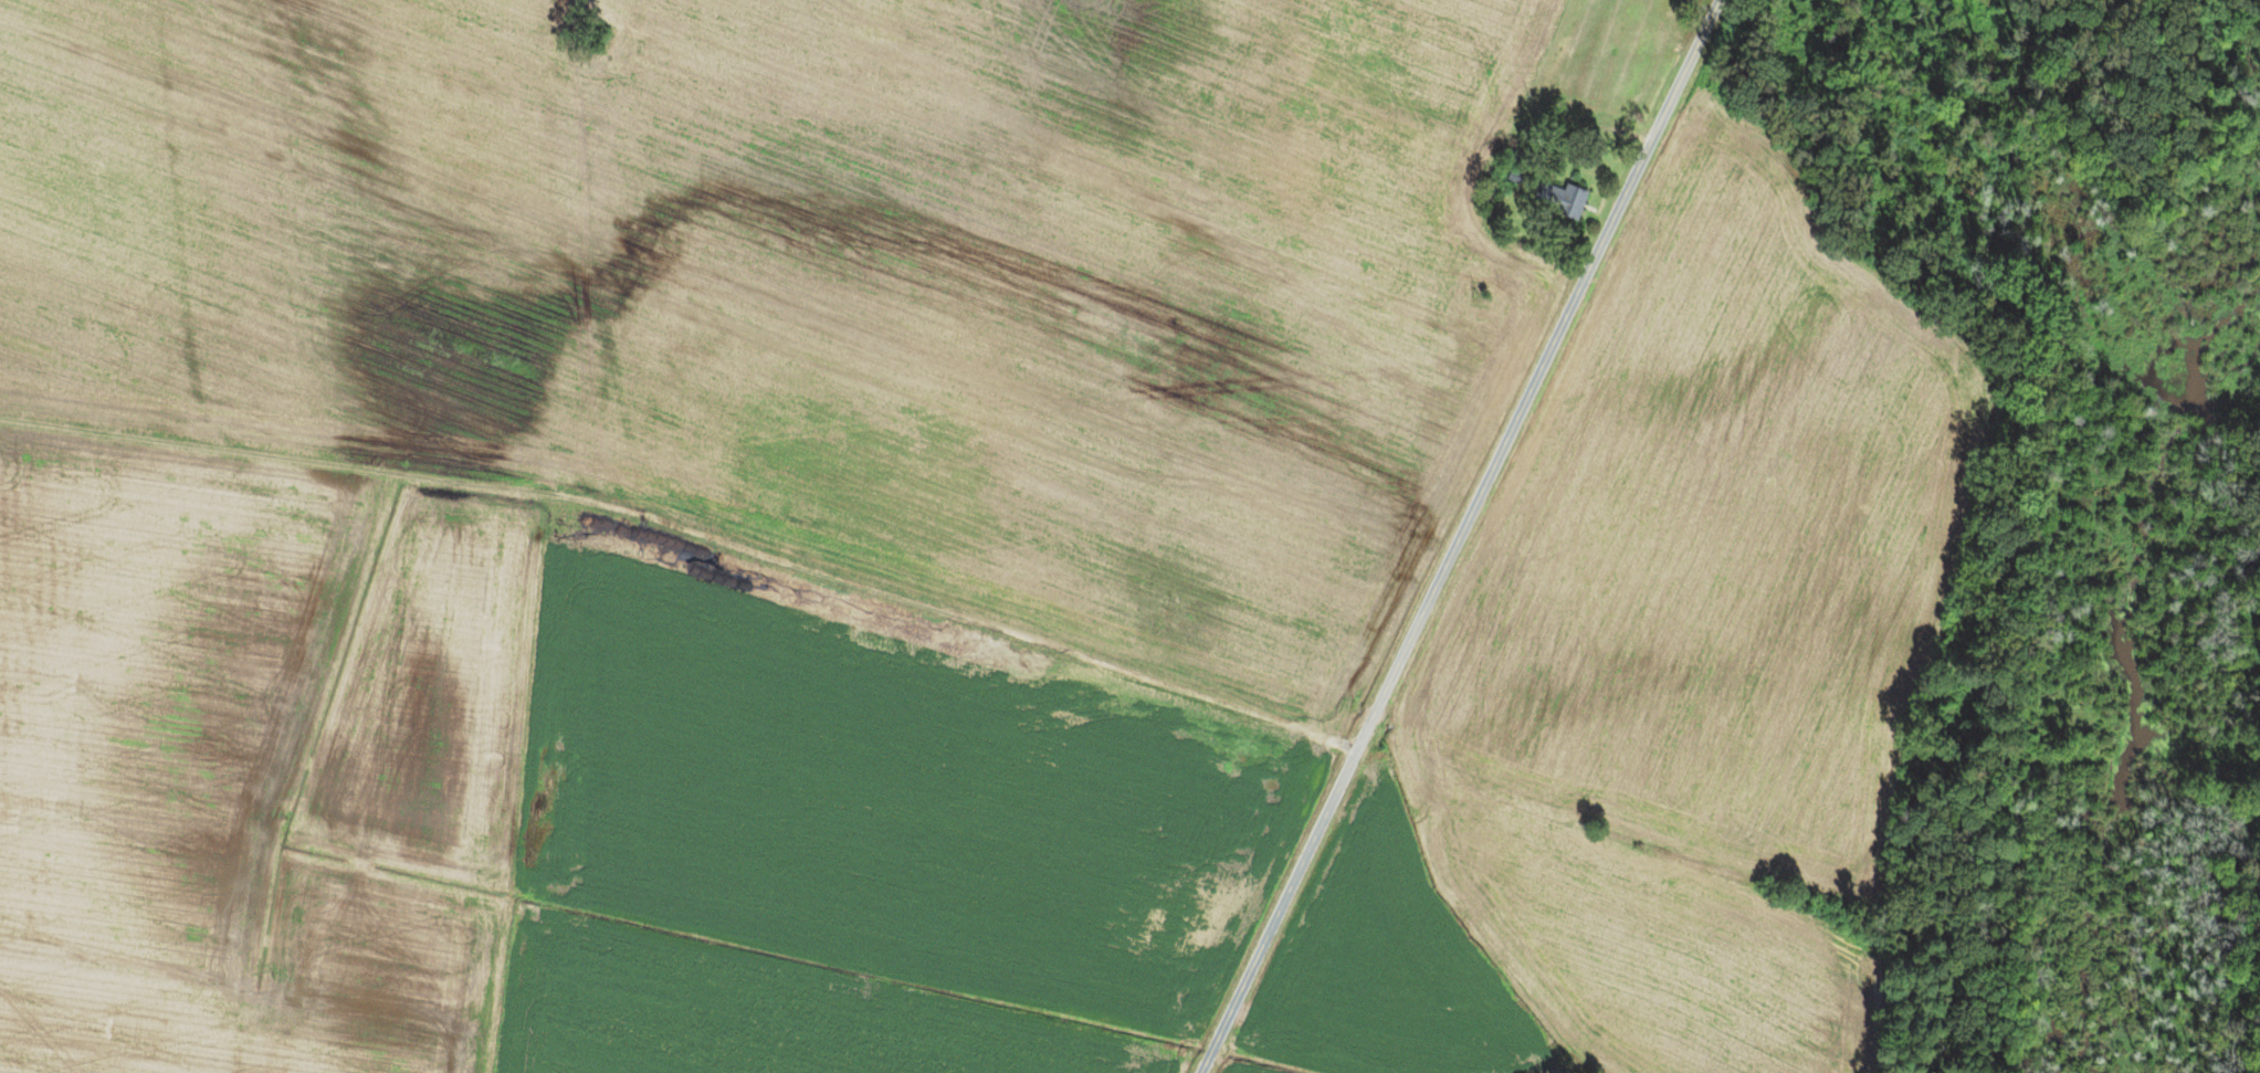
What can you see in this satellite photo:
building: (1556, 199)
road: (688, 536)
road: (1459, 536)

